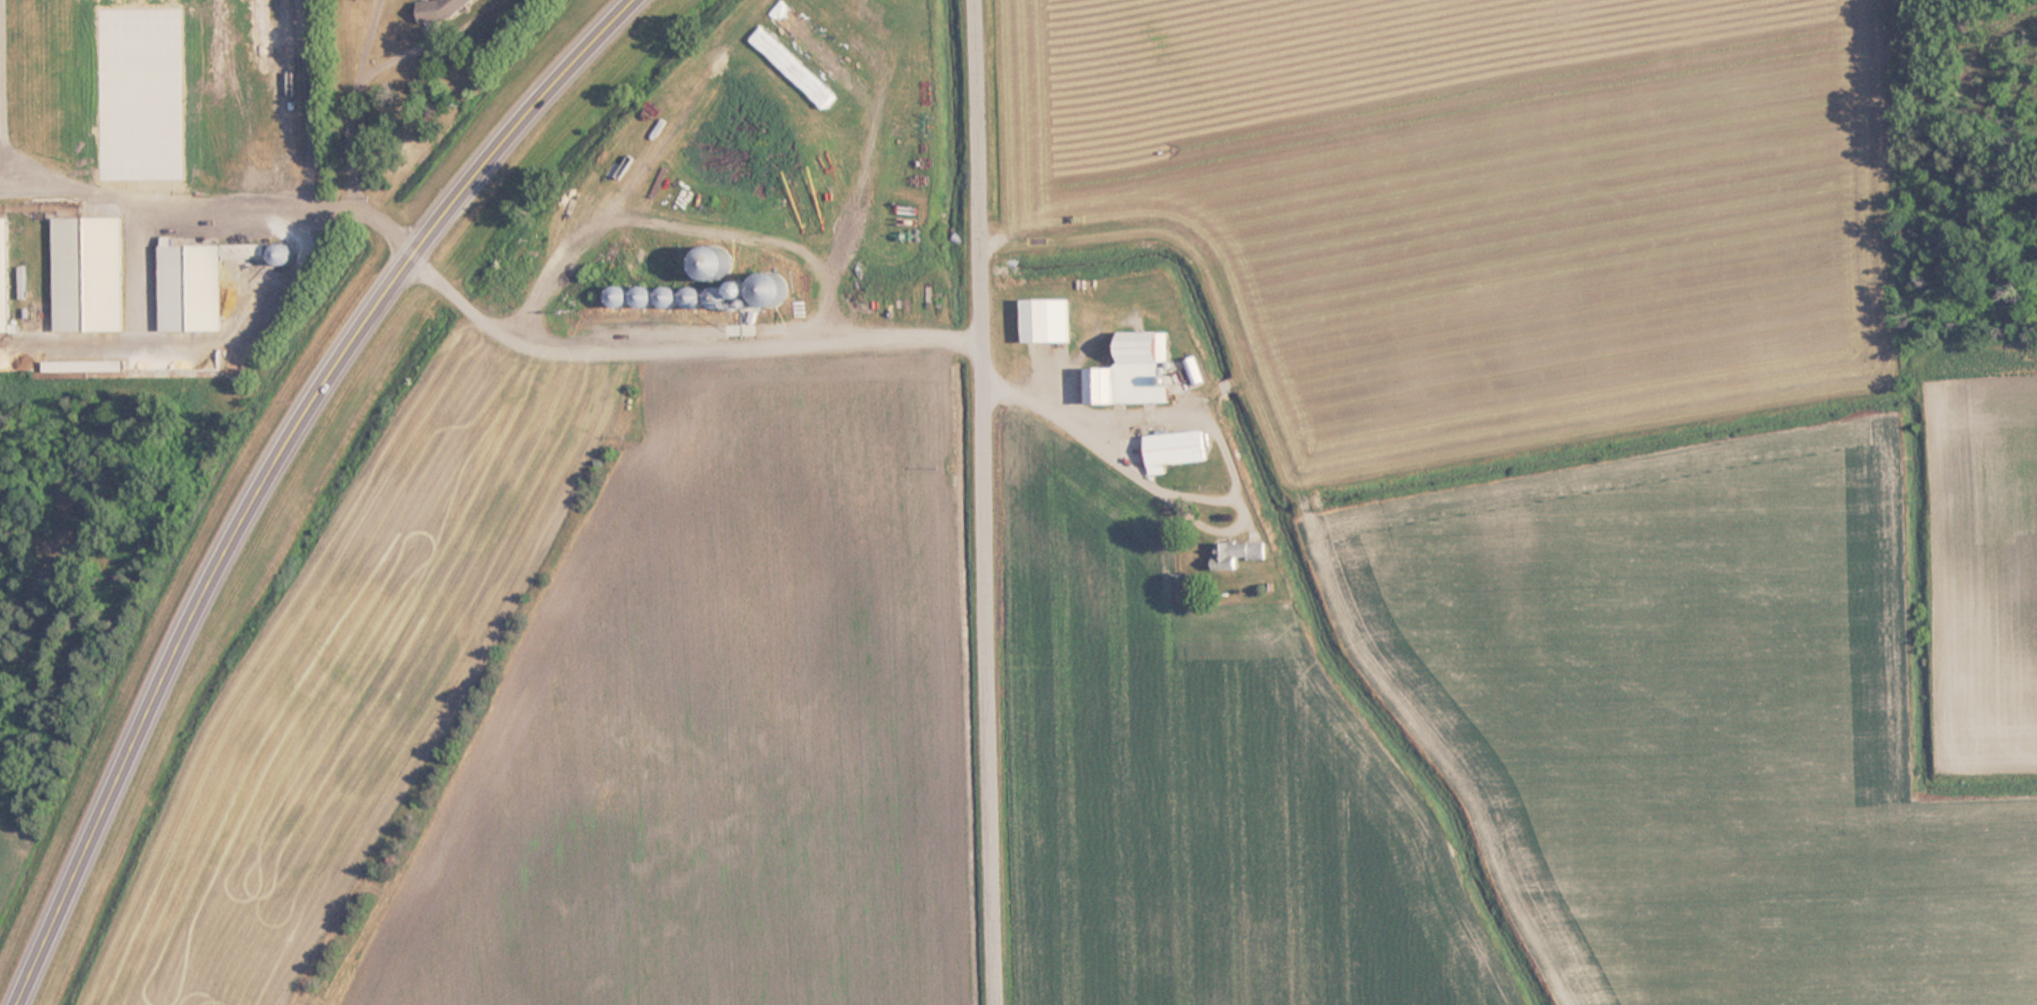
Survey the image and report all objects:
building: (800, 179)
building: (825, 234)
building: (281, 254)
building: (89, 274)
building: (197, 283)
building: (770, 290)
building: (619, 297)
building: (644, 297)
building: (693, 298)
building: (668, 299)
building: (1047, 320)
building: (72, 366)
building: (1196, 370)
building: (1133, 371)
building: (1176, 448)
road: (269, 466)
road: (986, 502)
building: (1237, 553)

